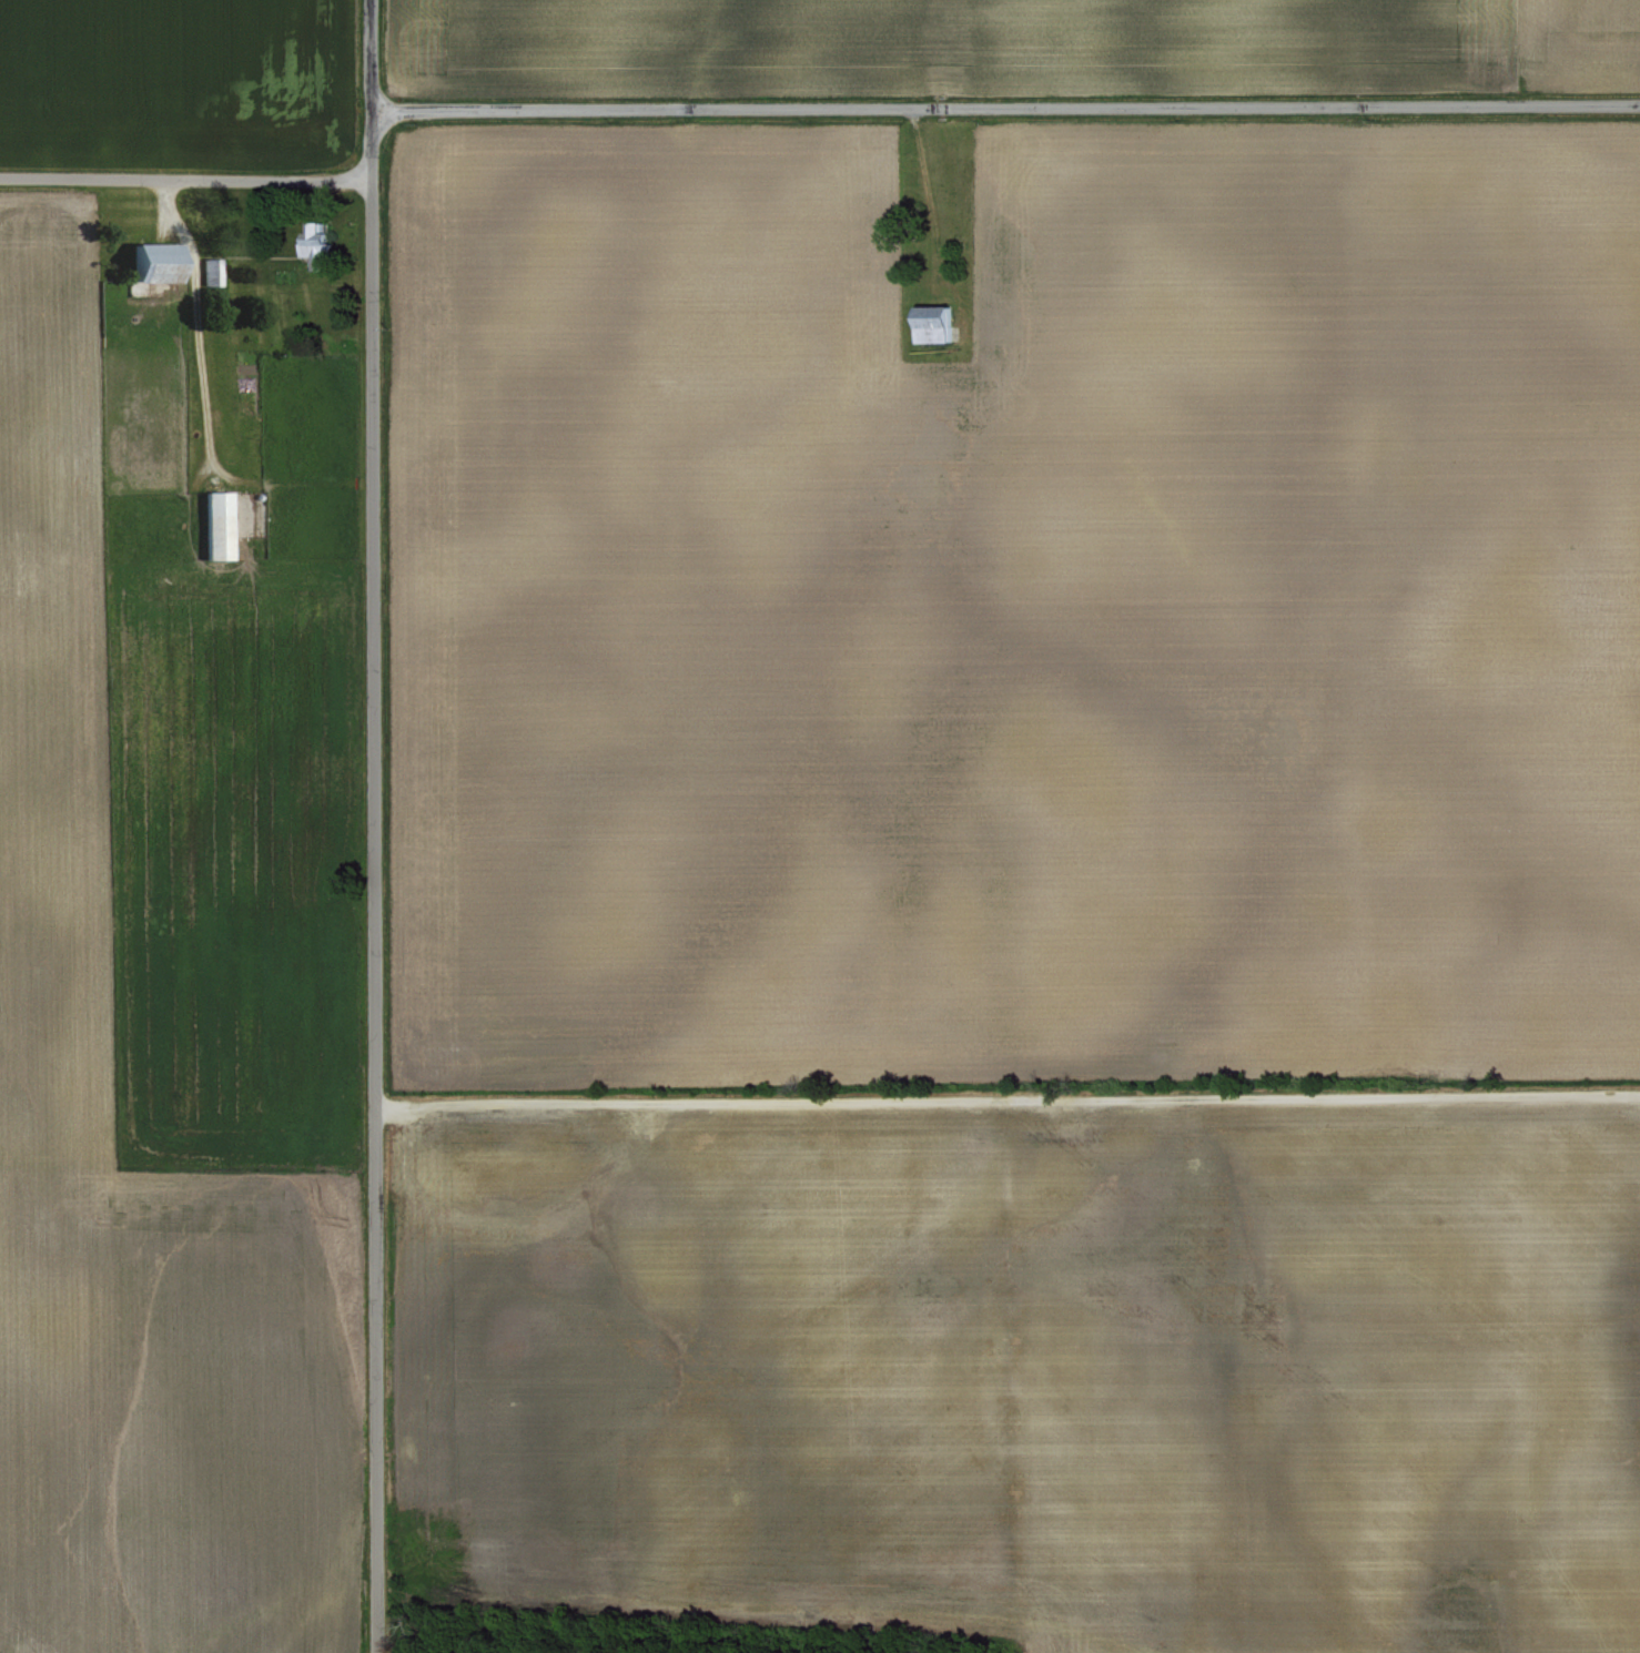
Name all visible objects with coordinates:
road: (368, 53)
road: (1004, 109)
road: (369, 143)
road: (184, 180)
building: (150, 264)
building: (209, 271)
building: (931, 325)
road: (201, 356)
building: (213, 525)
road: (369, 916)

